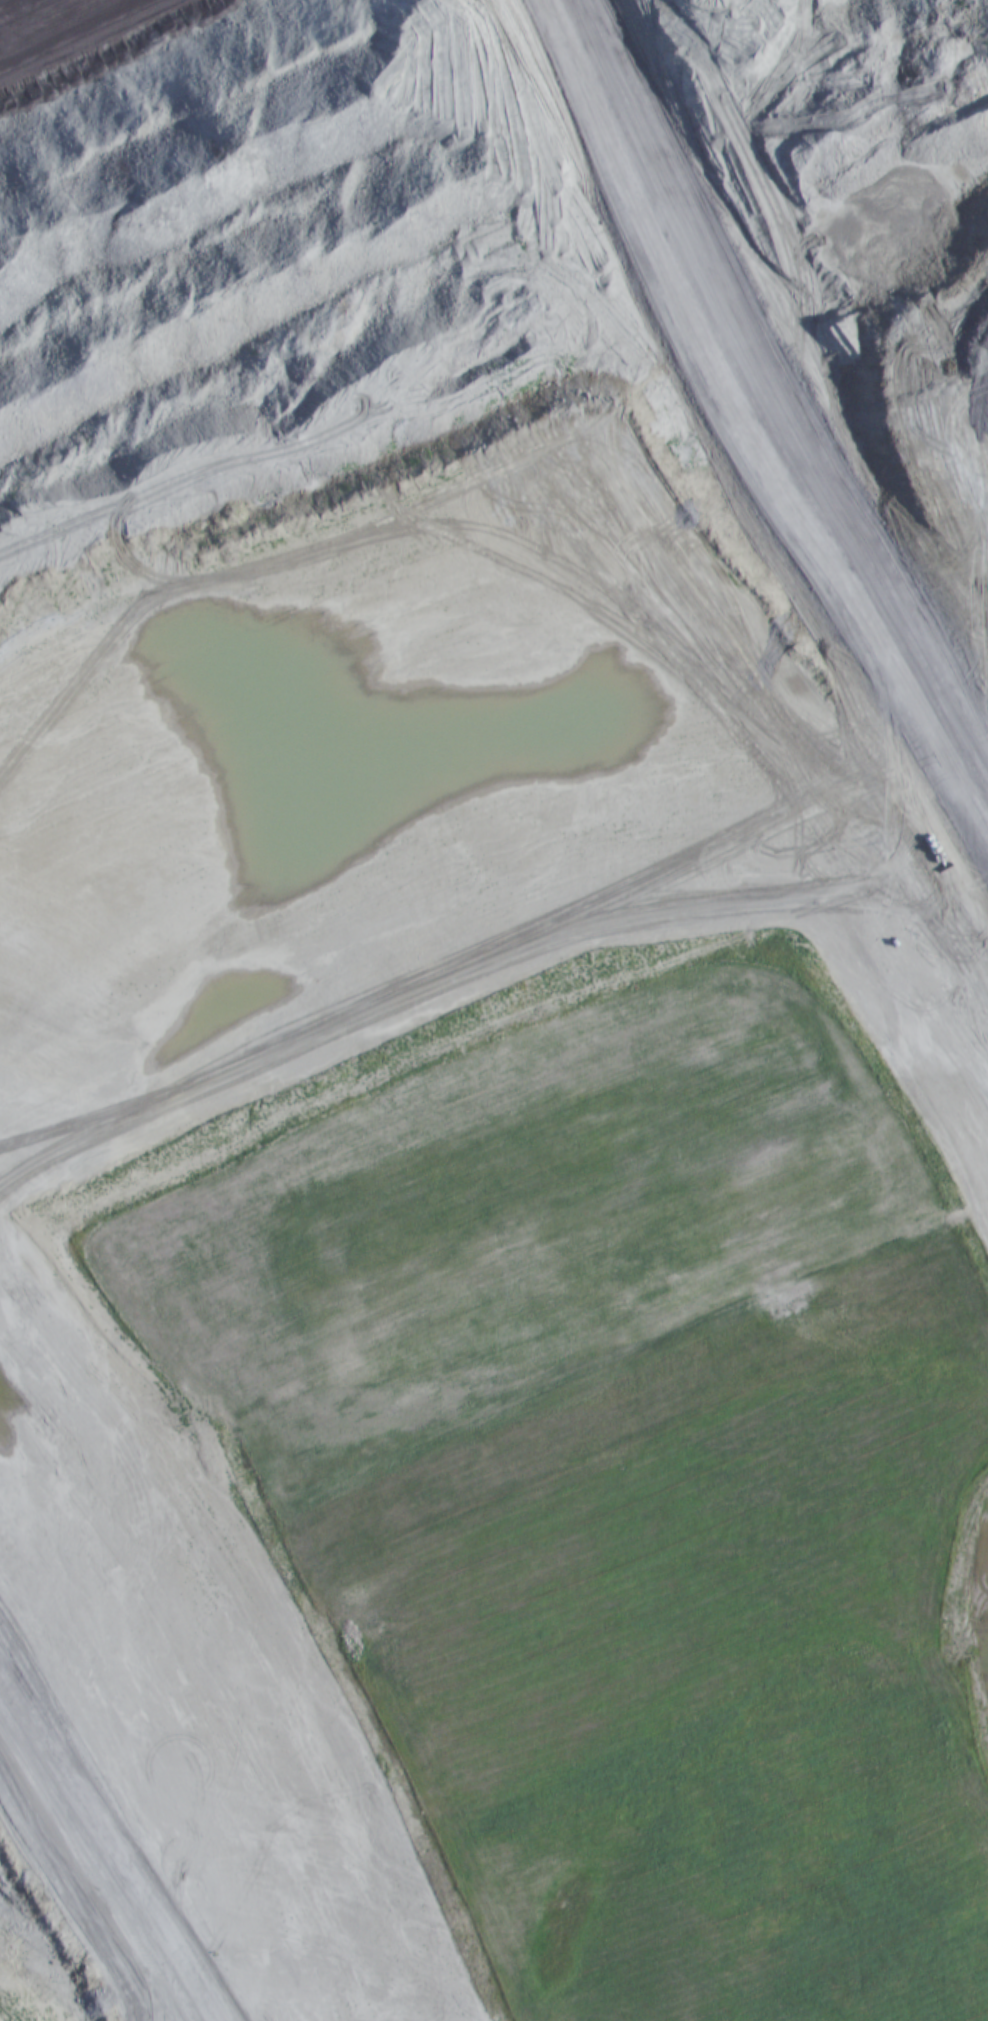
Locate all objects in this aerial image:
road: (494, 12)

